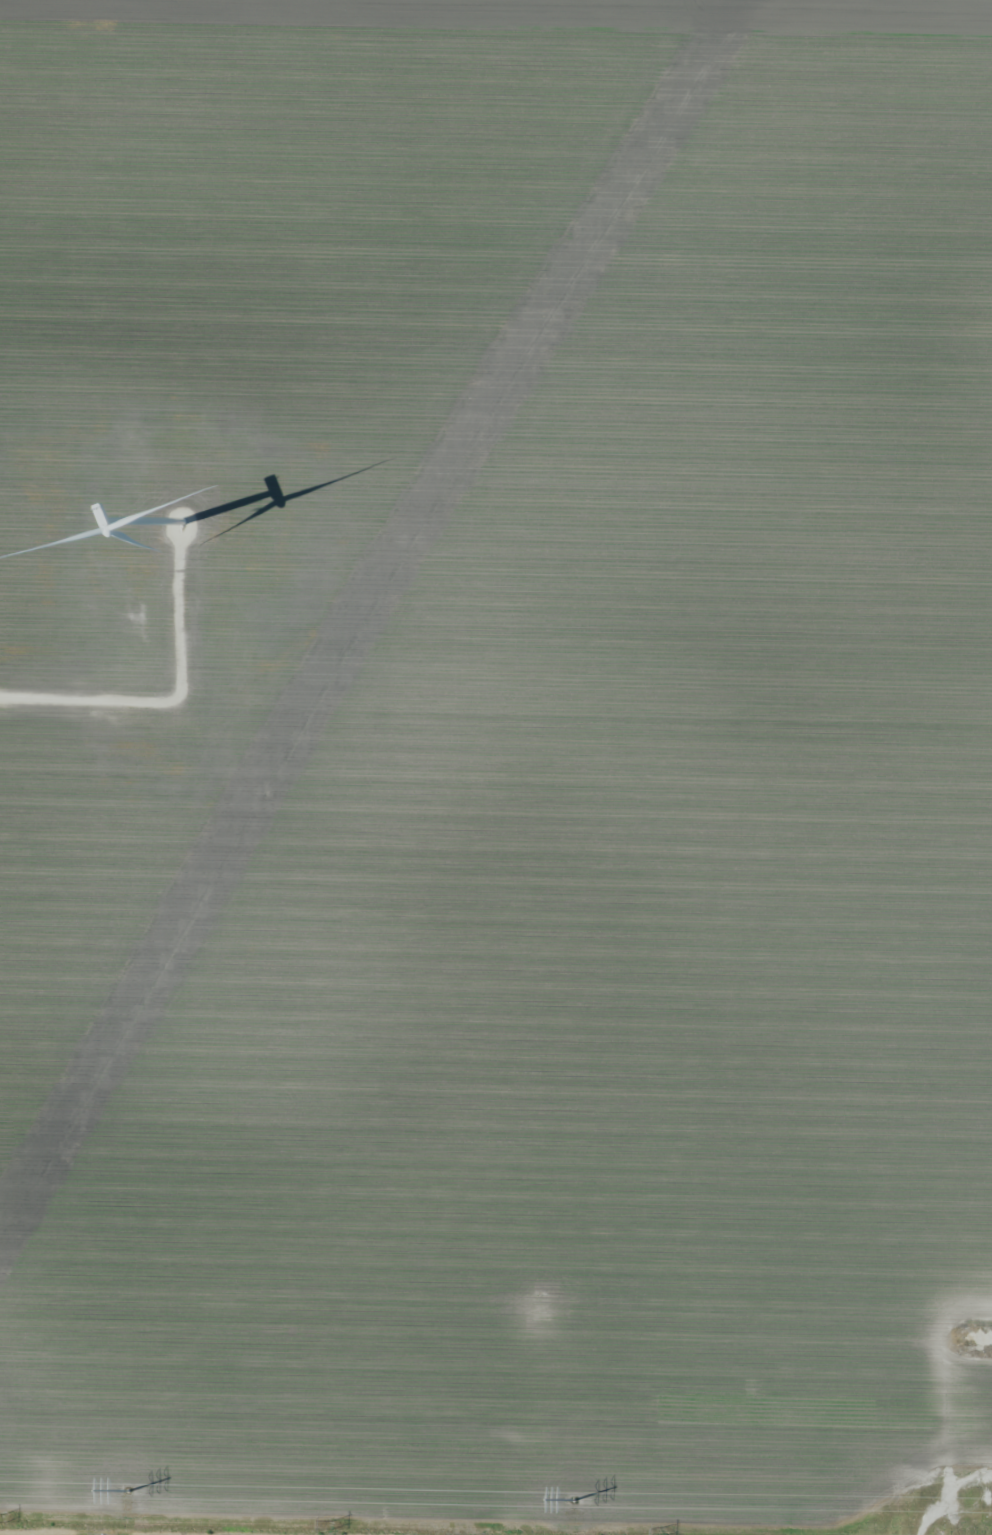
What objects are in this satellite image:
wind turbine: (175, 537)
power tower: (126, 1492)
power tower: (574, 1500)
road: (947, 1515)
power tower: (2, 1516)
power tower: (329, 1524)
power tower: (659, 1531)

